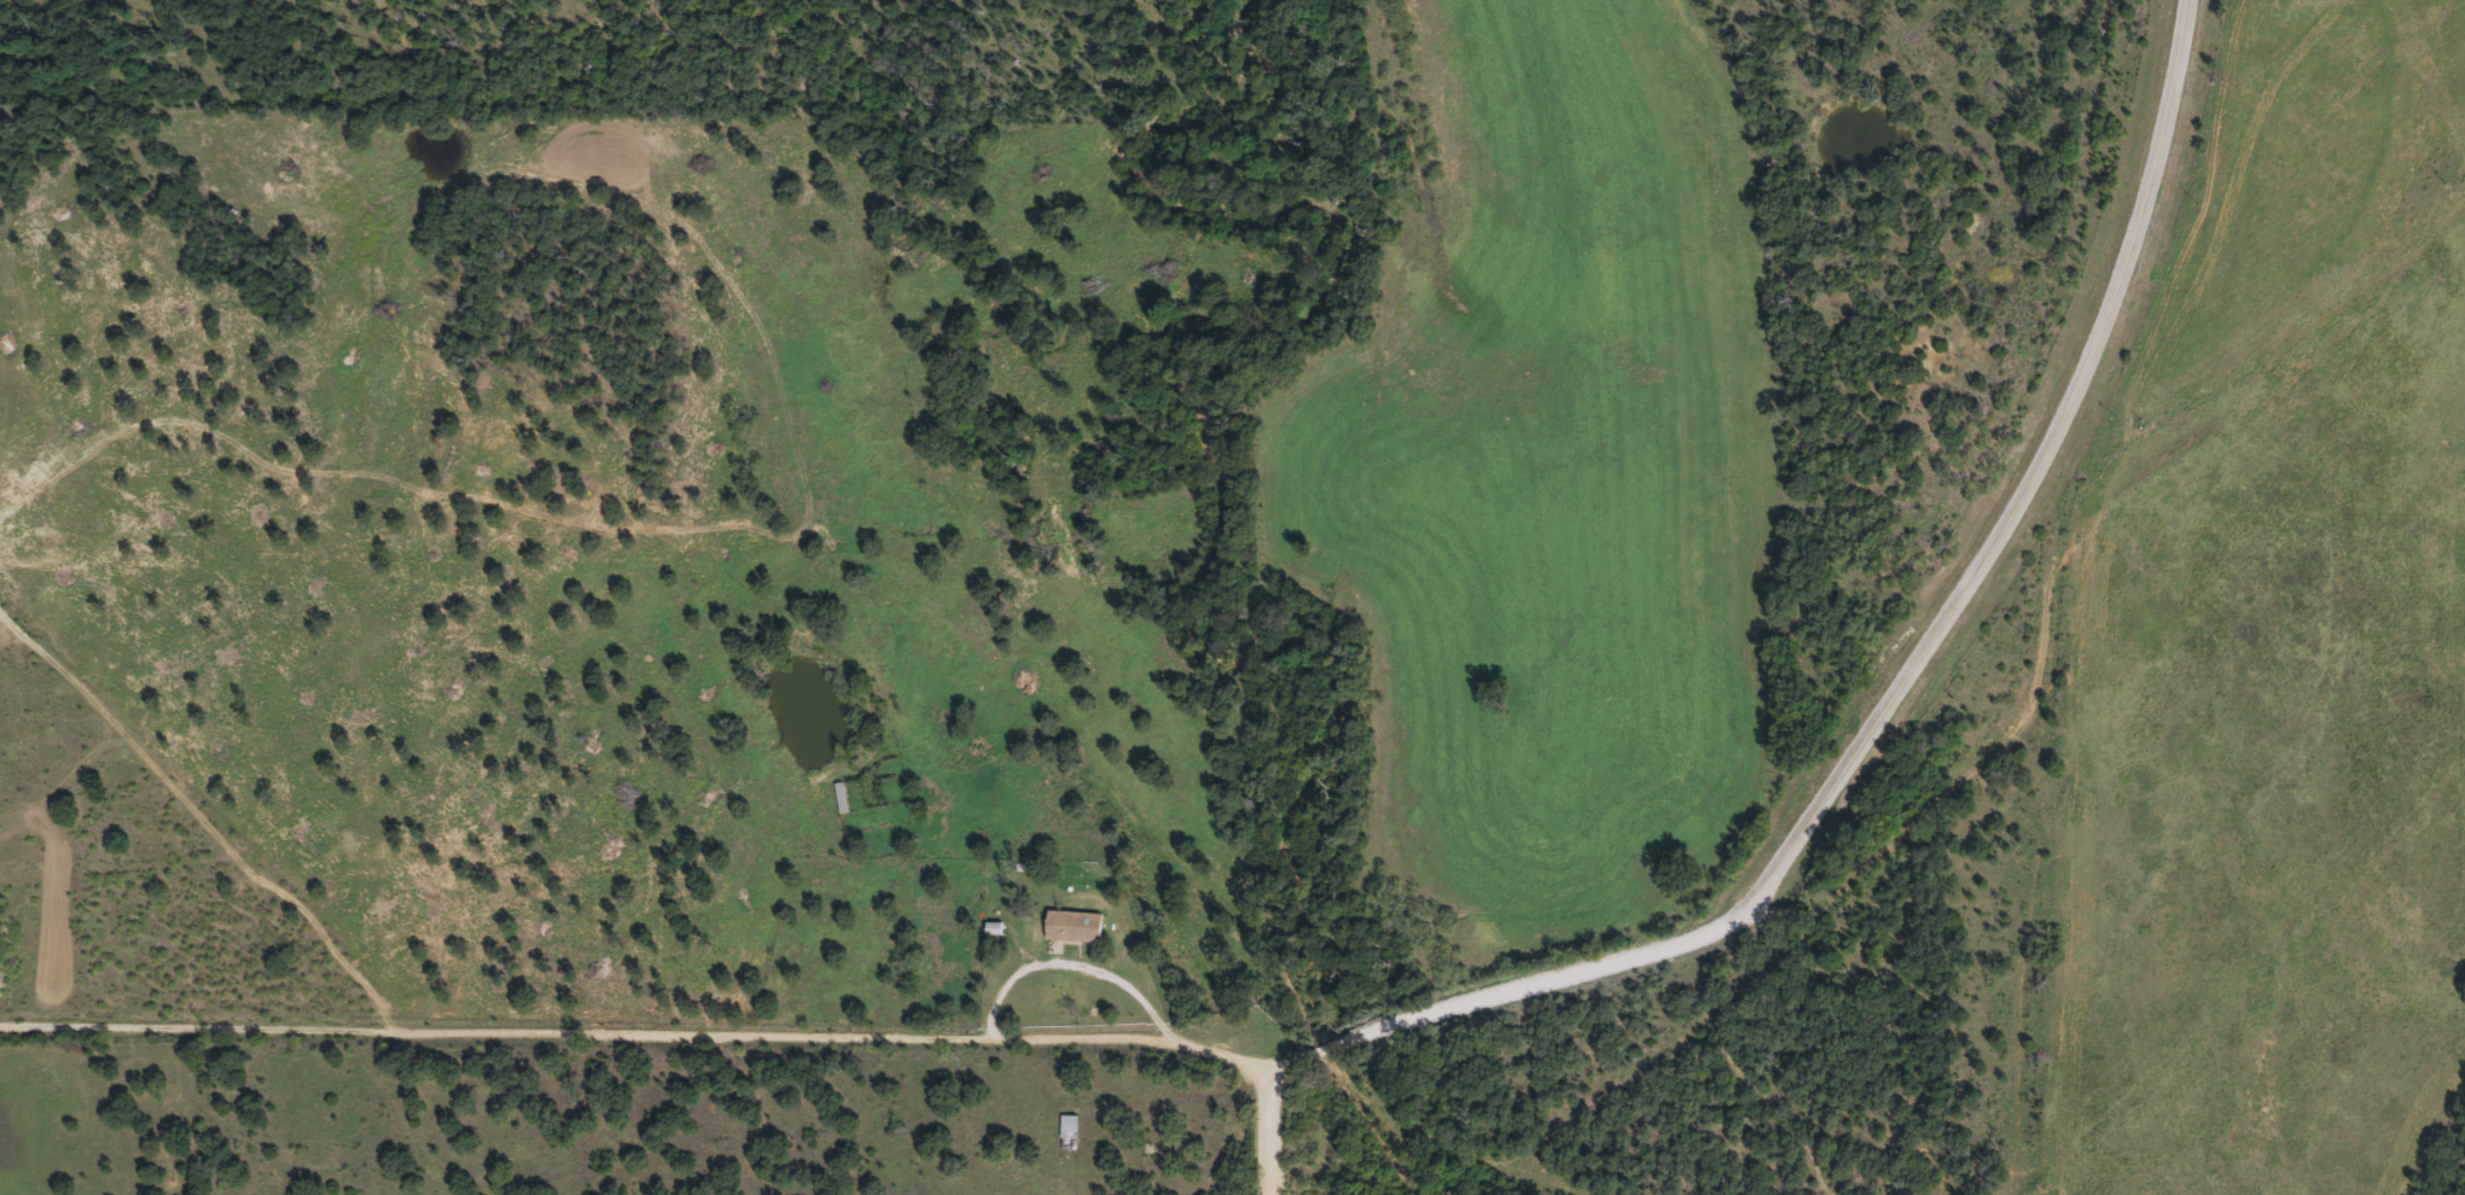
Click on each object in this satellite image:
road: (2027, 494)
building: (842, 799)
building: (1075, 931)
building: (993, 932)
road: (1034, 970)
road: (1540, 978)
road: (1322, 1047)
road: (1263, 1120)
building: (1070, 1133)

